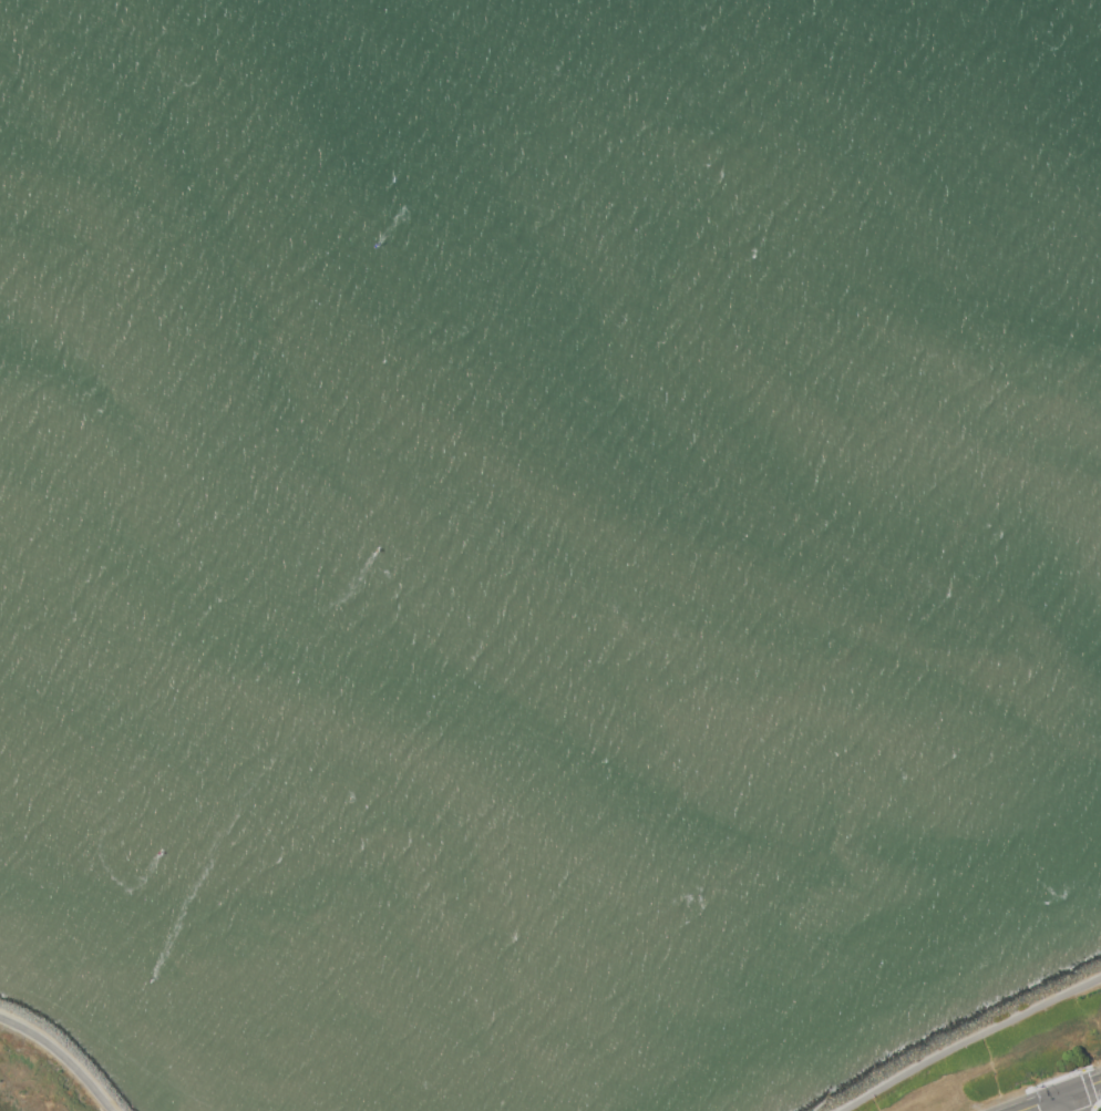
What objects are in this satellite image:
road: (1061, 1095)
road: (1070, 1102)
road: (1095, 1104)

